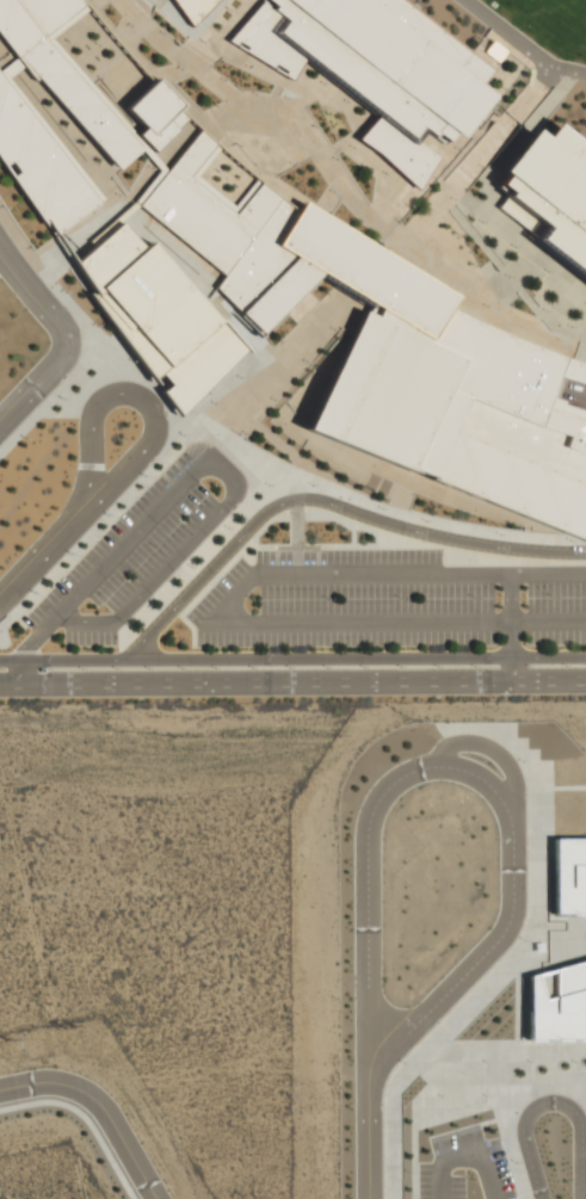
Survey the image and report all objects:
building: (191, 8)
road: (523, 45)
building: (387, 67)
building: (556, 187)
building: (295, 254)
building: (160, 316)
road: (62, 336)
road: (143, 398)
road: (233, 480)
road: (325, 502)
parking lot: (141, 548)
parking lot: (387, 601)
road: (511, 614)
road: (218, 617)
road: (38, 638)
road: (292, 659)
road: (512, 669)
road: (17, 674)
road: (292, 682)
road: (504, 756)
road: (385, 789)
building: (567, 873)
building: (556, 1001)
road: (431, 1008)
power tower: (69, 1028)
road: (550, 1101)
road: (100, 1105)
road: (369, 1136)
road: (464, 1154)
parking lot: (464, 1164)

